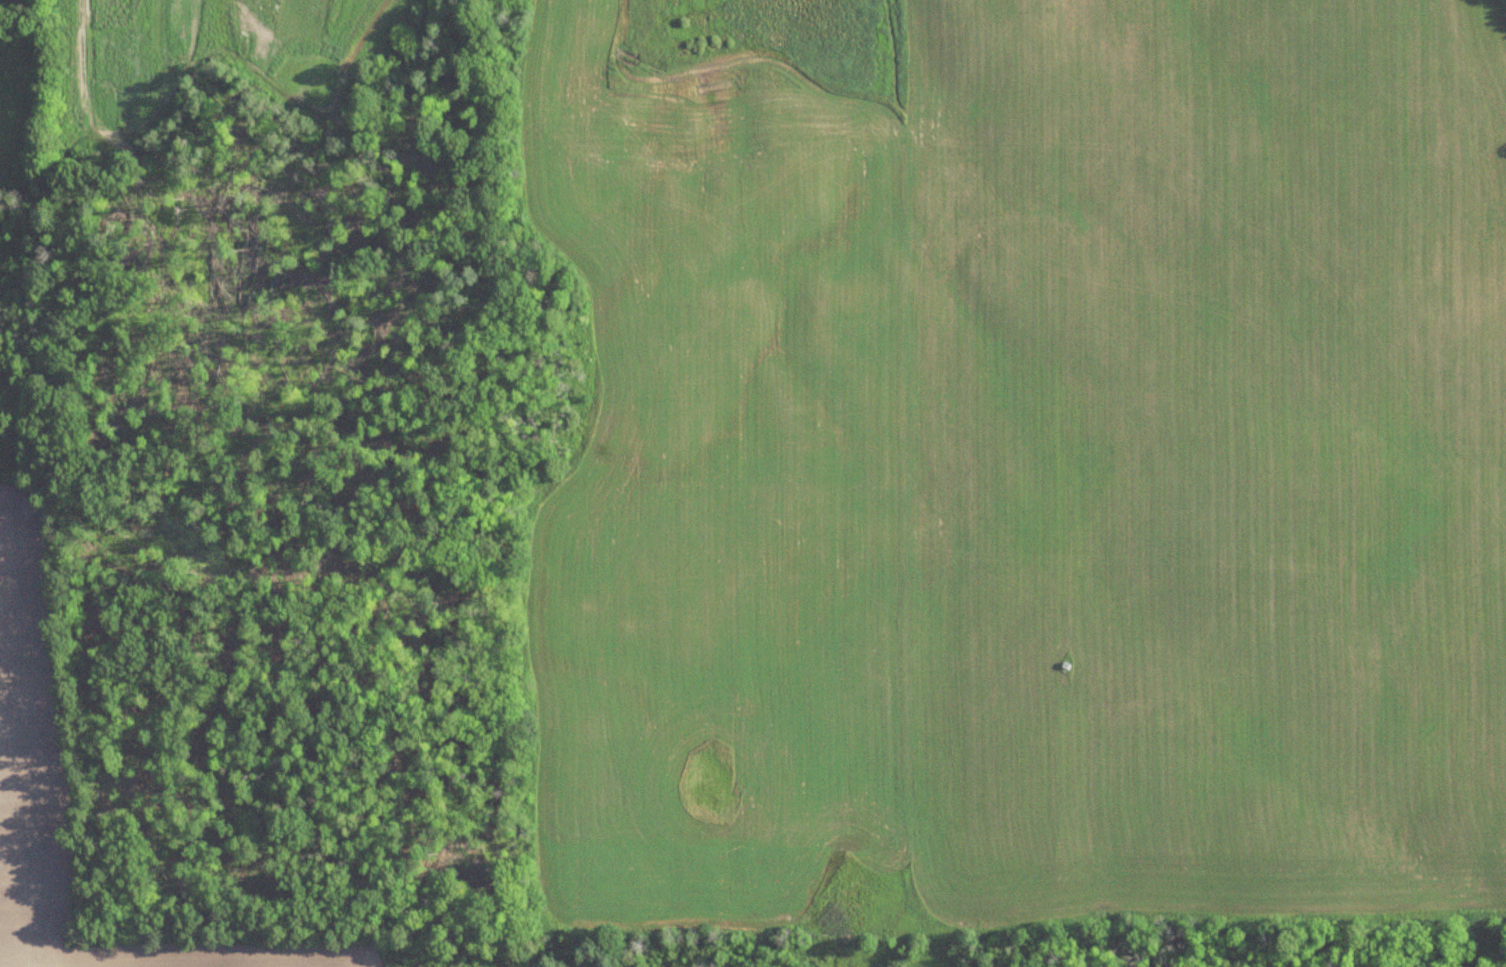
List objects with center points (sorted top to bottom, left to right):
crop: (1023, 470)

